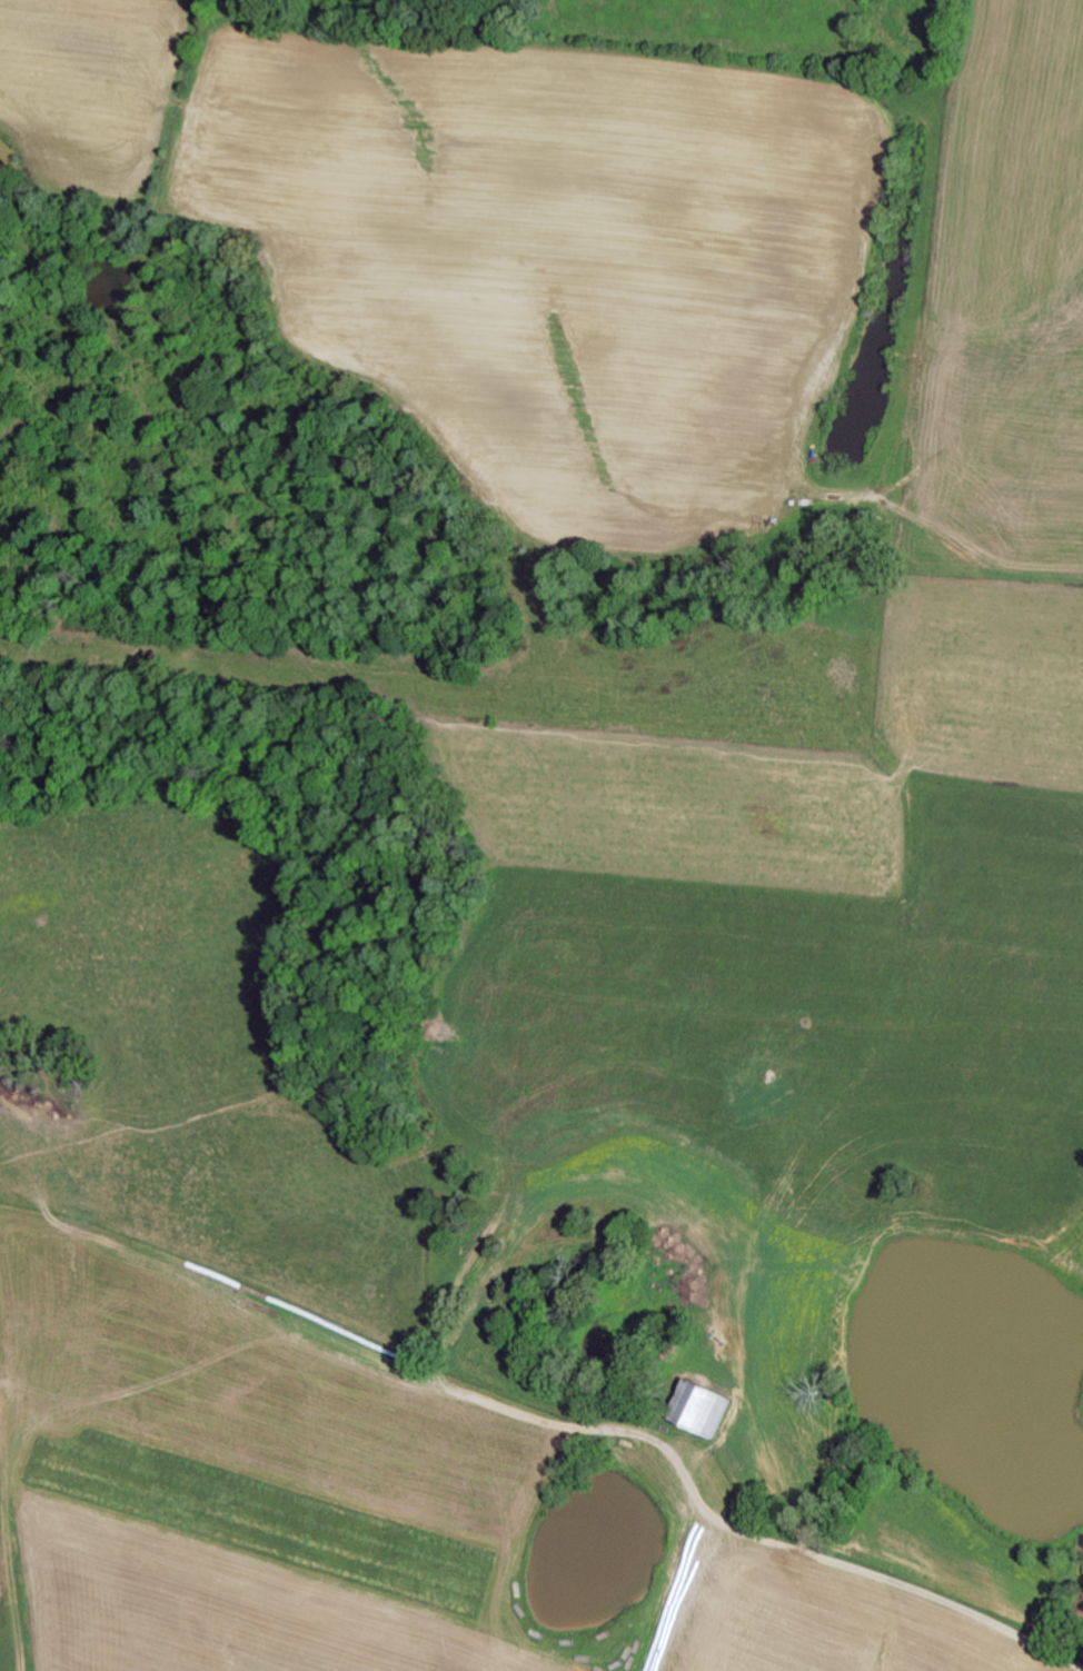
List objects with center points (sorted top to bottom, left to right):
building: (706, 1409)

